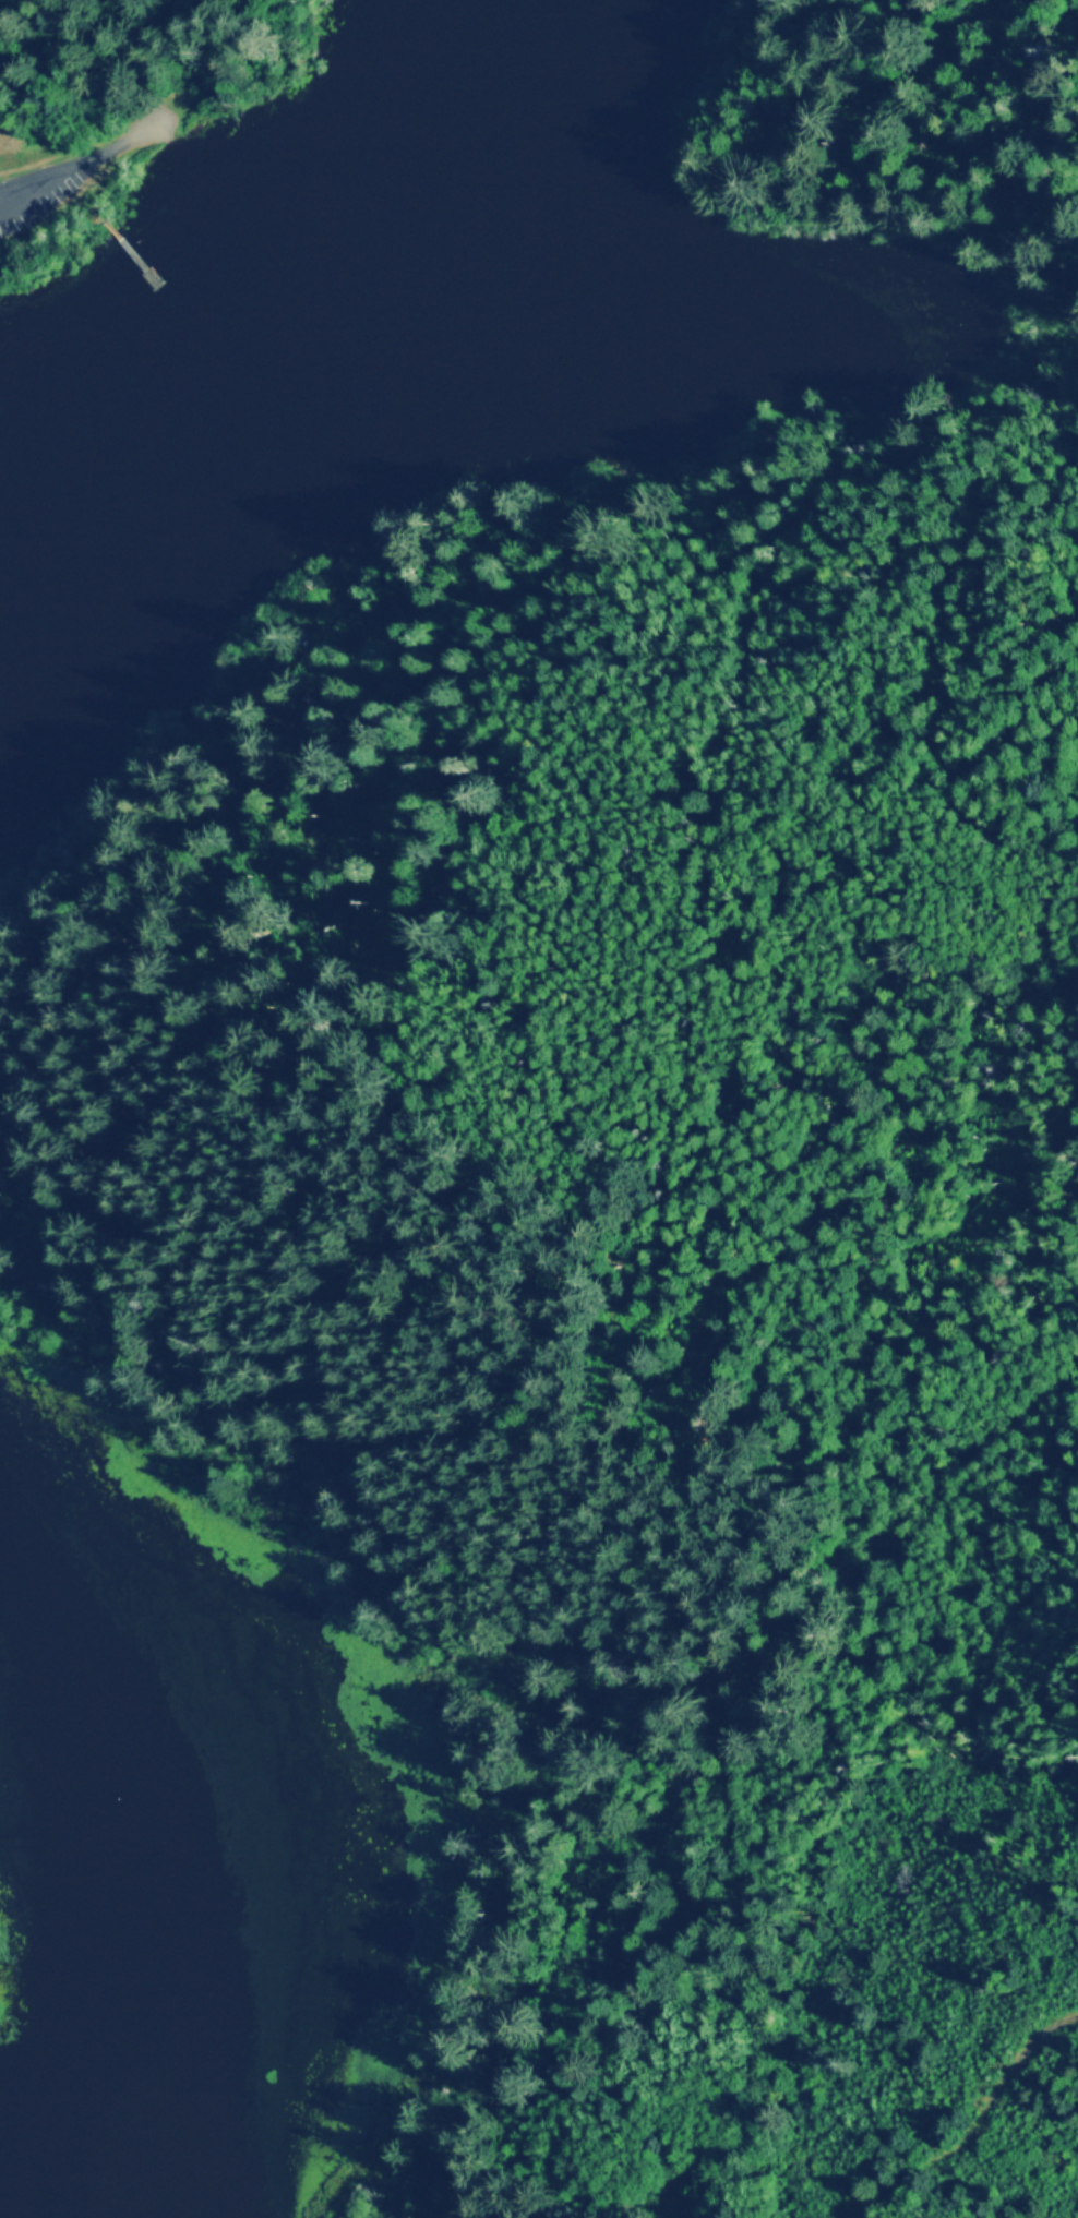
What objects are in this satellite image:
road: (233, 68)
road: (1039, 69)
park: (125, 134)
road: (83, 166)
road: (84, 199)
pier: (128, 257)
road: (983, 2133)

